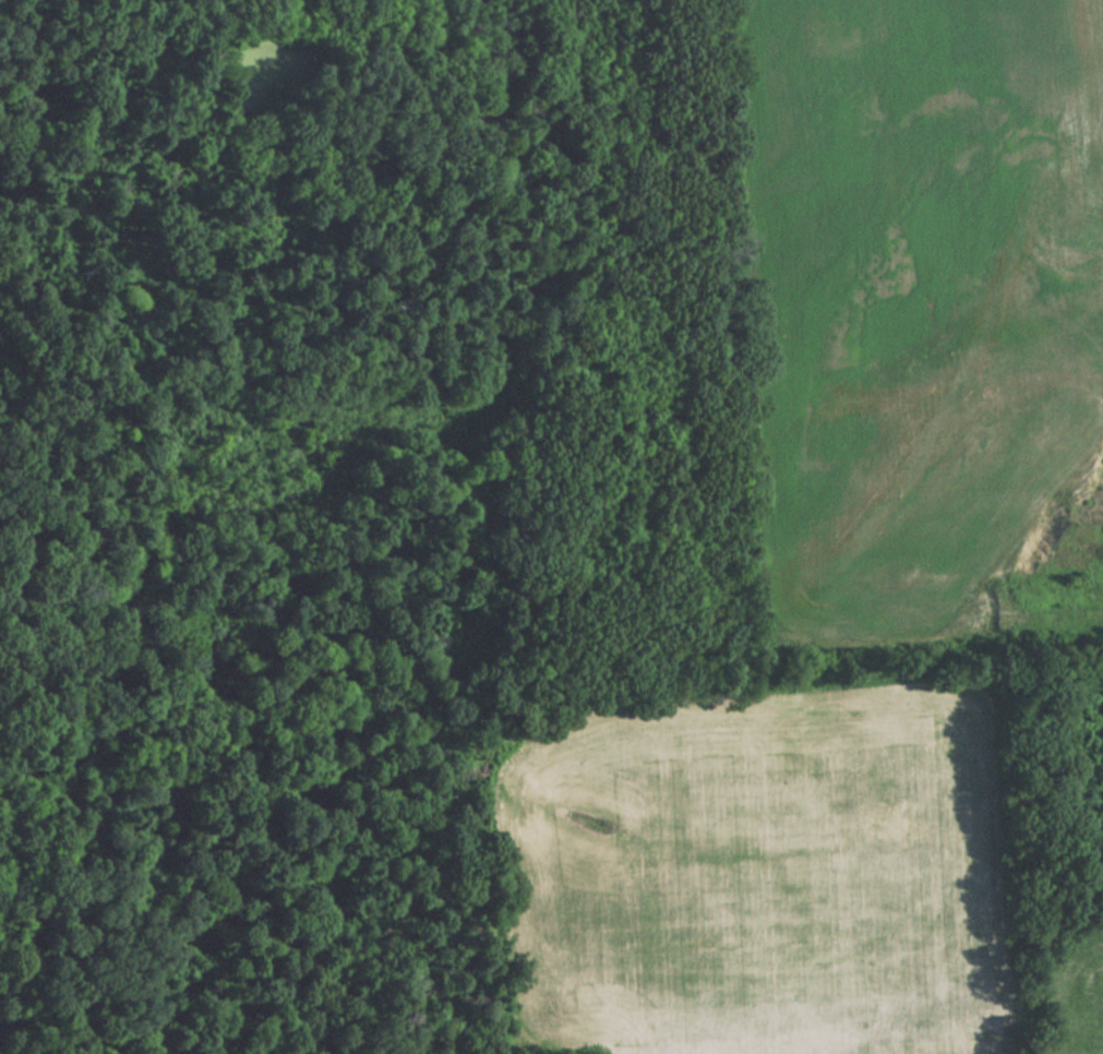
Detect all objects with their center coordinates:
quarry: (918, 332)
building: (5, 1025)

